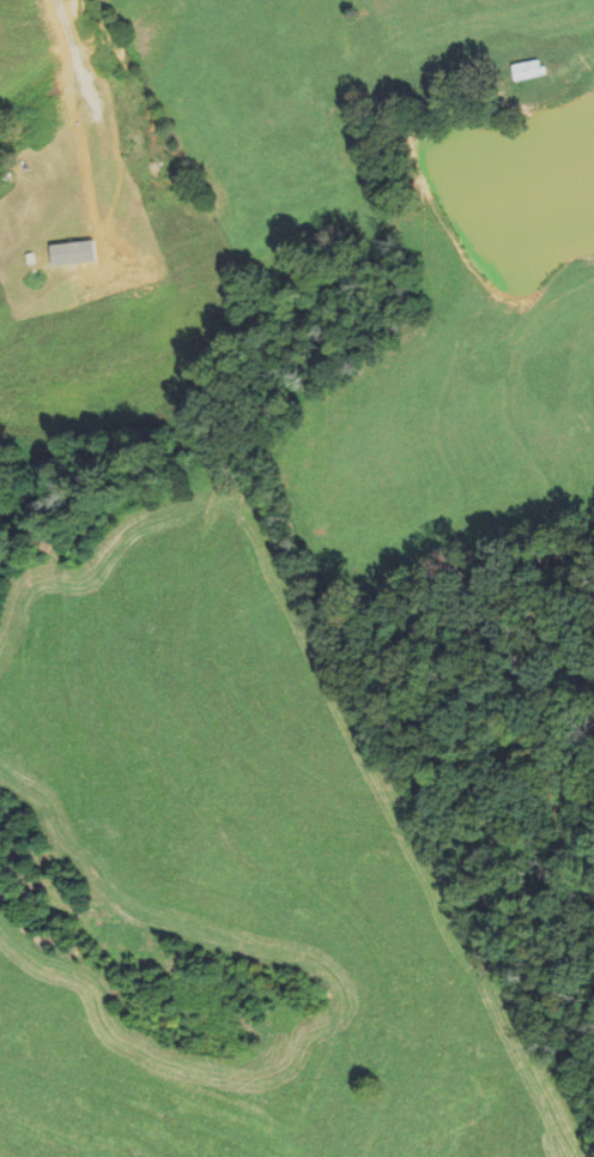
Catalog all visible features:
building: (533, 68)

